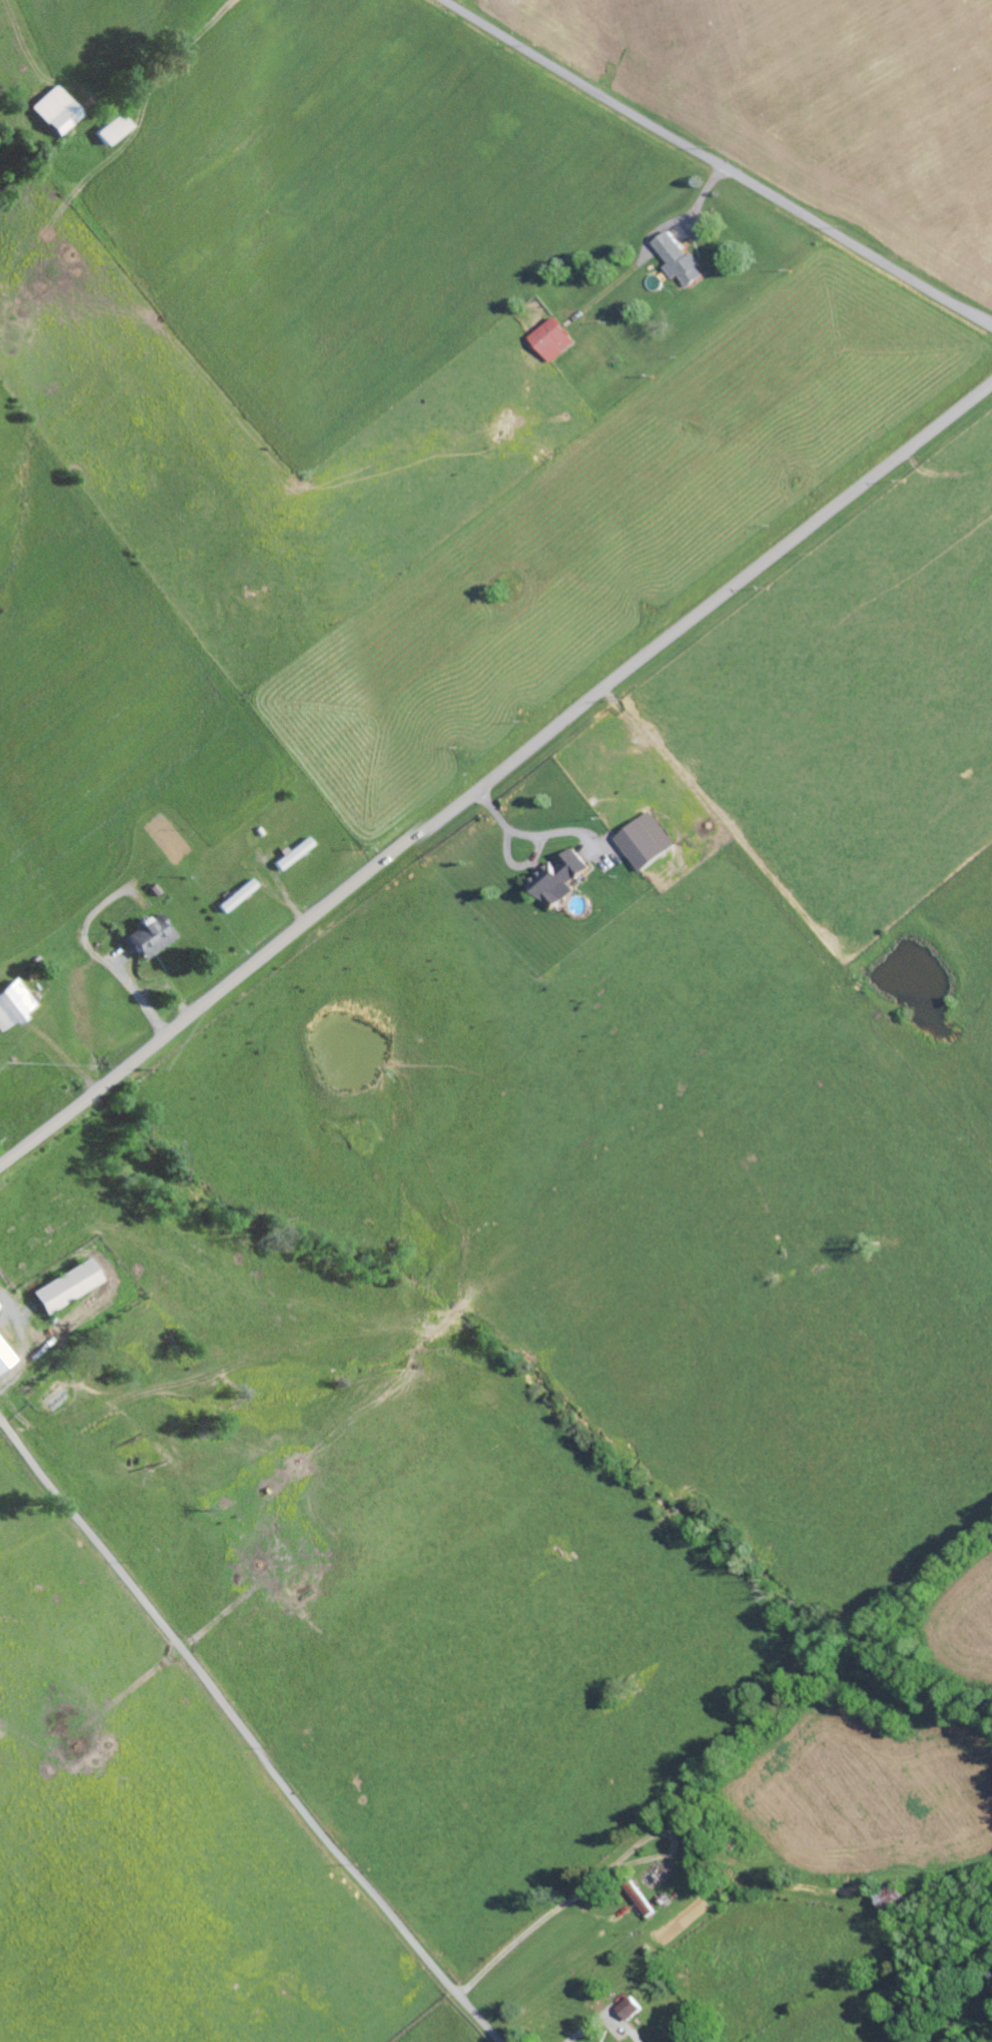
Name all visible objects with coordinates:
building: (53, 110)
road: (718, 163)
building: (678, 258)
building: (549, 339)
road: (495, 772)
building: (642, 840)
building: (291, 853)
building: (554, 878)
building: (234, 895)
building: (145, 936)
building: (10, 1001)
building: (60, 1287)
building: (3, 1357)
road: (245, 1732)
building: (628, 2007)

